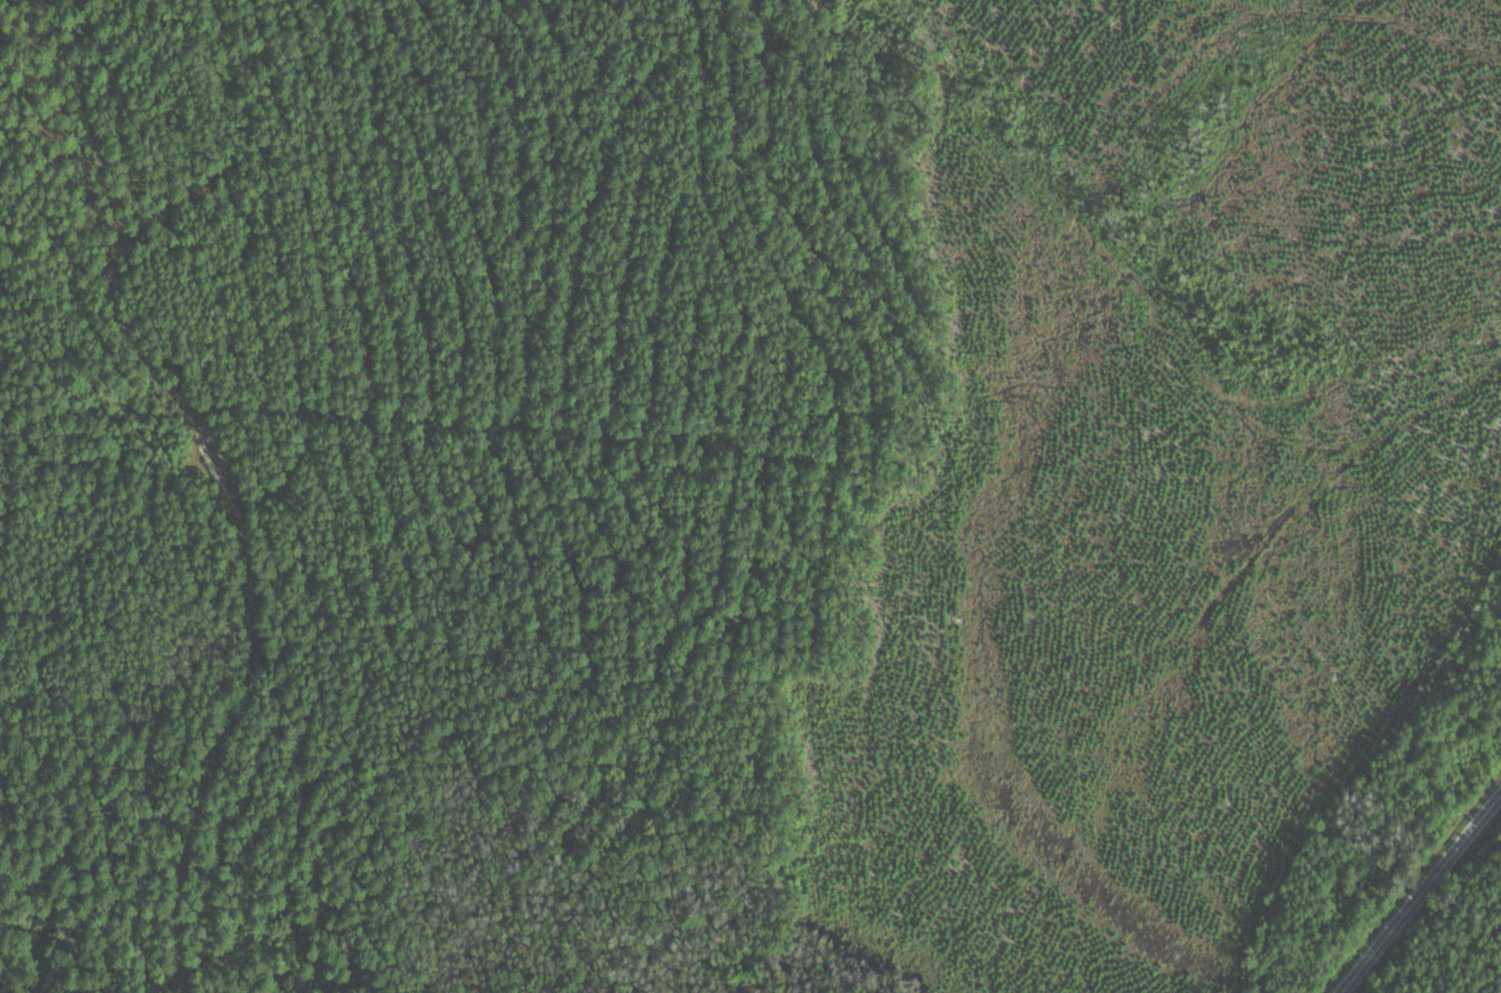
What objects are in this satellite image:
road: (1424, 894)

